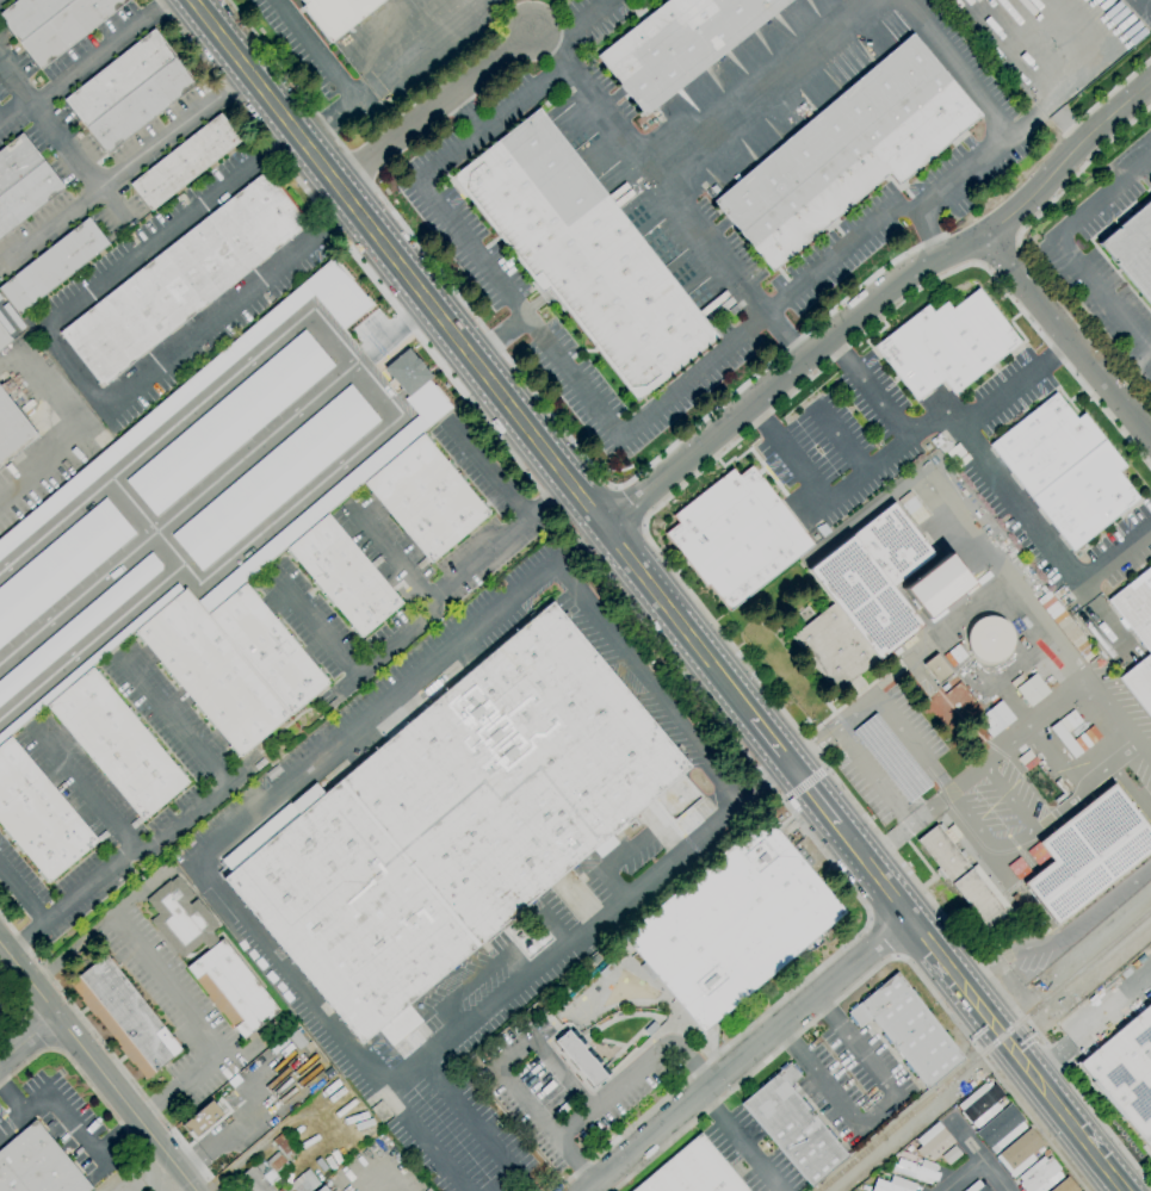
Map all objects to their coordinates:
road: (1146, 6)
road: (151, 8)
building: (336, 14)
building: (29, 15)
road: (576, 25)
building: (67, 27)
parking lot: (1052, 41)
building: (679, 44)
road: (401, 48)
road: (315, 52)
road: (69, 72)
building: (118, 77)
road: (763, 86)
road: (228, 87)
road: (1106, 98)
building: (140, 105)
road: (434, 107)
road: (330, 125)
road: (62, 137)
road: (274, 142)
building: (847, 151)
building: (17, 161)
building: (185, 162)
road: (1079, 170)
road: (104, 182)
road: (670, 193)
building: (26, 196)
road: (332, 219)
road: (873, 224)
road: (928, 231)
road: (459, 235)
road: (1062, 247)
building: (1133, 249)
building: (583, 254)
road: (1003, 258)
building: (52, 266)
building: (180, 280)
road: (874, 298)
road: (495, 334)
road: (1068, 337)
building: (4, 339)
building: (947, 345)
road: (839, 351)
road: (466, 352)
road: (1054, 355)
road: (69, 367)
road: (364, 370)
road: (879, 402)
road: (827, 417)
building: (228, 422)
road: (761, 424)
building: (12, 429)
road: (39, 465)
road: (487, 469)
building: (1065, 470)
road: (594, 472)
road: (864, 473)
building: (273, 477)
road: (211, 480)
road: (546, 497)
building: (426, 498)
road: (632, 503)
road: (1016, 505)
building: (737, 535)
road: (390, 552)
road: (175, 557)
building: (61, 569)
building: (344, 576)
road: (681, 582)
building: (936, 585)
building: (861, 597)
road: (428, 601)
building: (1135, 607)
road: (642, 621)
building: (78, 626)
road: (315, 627)
building: (988, 640)
building: (953, 655)
building: (231, 664)
building: (936, 669)
building: (1139, 682)
building: (1032, 690)
building: (960, 700)
road: (174, 718)
building: (995, 719)
road: (896, 721)
road: (1036, 721)
building: (1069, 722)
road: (766, 734)
building: (1065, 739)
building: (117, 744)
road: (810, 748)
building: (890, 758)
road: (870, 777)
road: (766, 783)
flagpole: (703, 784)
road: (804, 784)
road: (807, 788)
road: (86, 793)
building: (38, 814)
building: (454, 824)
road: (1021, 840)
road: (886, 844)
building: (1087, 852)
road: (136, 855)
building: (963, 876)
road: (23, 899)
building: (181, 918)
building: (732, 924)
road: (551, 926)
road: (883, 938)
road: (1062, 938)
road: (27, 942)
road: (928, 943)
building: (605, 970)
road: (481, 975)
building: (231, 990)
road: (21, 1006)
road: (191, 1009)
road: (830, 1010)
park: (578, 1013)
building: (125, 1017)
road: (1091, 1025)
building: (650, 1029)
road: (804, 1029)
road: (39, 1030)
building: (908, 1030)
road: (27, 1040)
road: (791, 1041)
railway: (984, 1050)
road: (109, 1053)
road: (751, 1055)
building: (581, 1057)
road: (97, 1067)
road: (691, 1067)
road: (75, 1069)
building: (1125, 1072)
road: (562, 1075)
building: (988, 1079)
building: (971, 1084)
road: (1003, 1085)
road: (515, 1087)
parking lot: (569, 1090)
road: (380, 1092)
road: (615, 1093)
road: (12, 1097)
road: (51, 1104)
building: (980, 1104)
road: (155, 1109)
road: (877, 1111)
building: (200, 1118)
road: (476, 1127)
building: (793, 1127)
building: (1001, 1129)
road: (1077, 1133)
road: (117, 1140)
building: (933, 1141)
road: (423, 1142)
building: (281, 1143)
road: (742, 1145)
building: (909, 1148)
building: (1040, 1150)
road: (1054, 1152)
building: (1019, 1153)
building: (1045, 1153)
building: (951, 1155)
road: (979, 1156)
building: (37, 1164)
building: (277, 1164)
road: (578, 1166)
building: (917, 1171)
building: (693, 1172)
road: (963, 1176)
building: (1039, 1176)
building: (270, 1178)
building: (250, 1181)
building: (302, 1183)
building: (893, 1185)
building: (977, 1186)
building: (1065, 1186)
building: (322, 1189)

